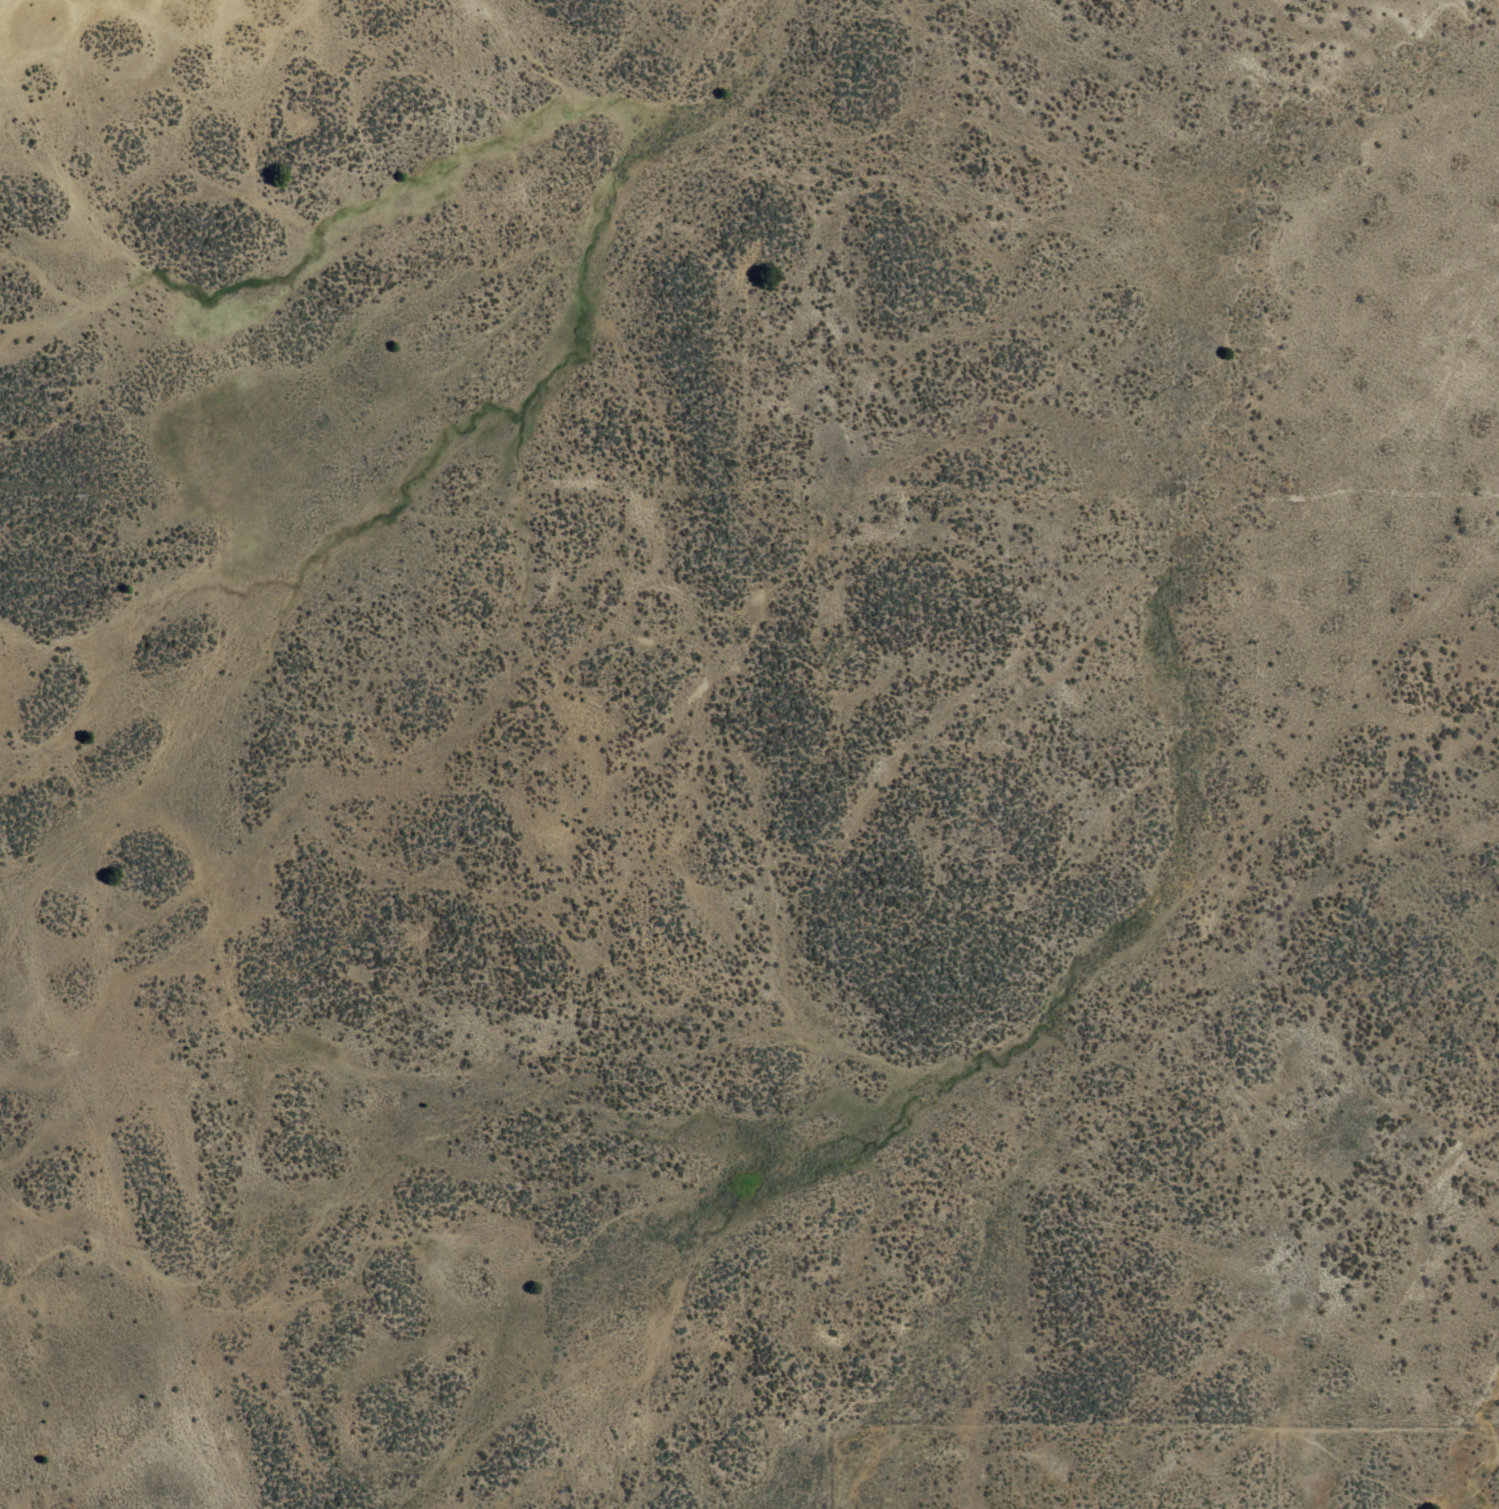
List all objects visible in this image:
crop: (859, 685)

